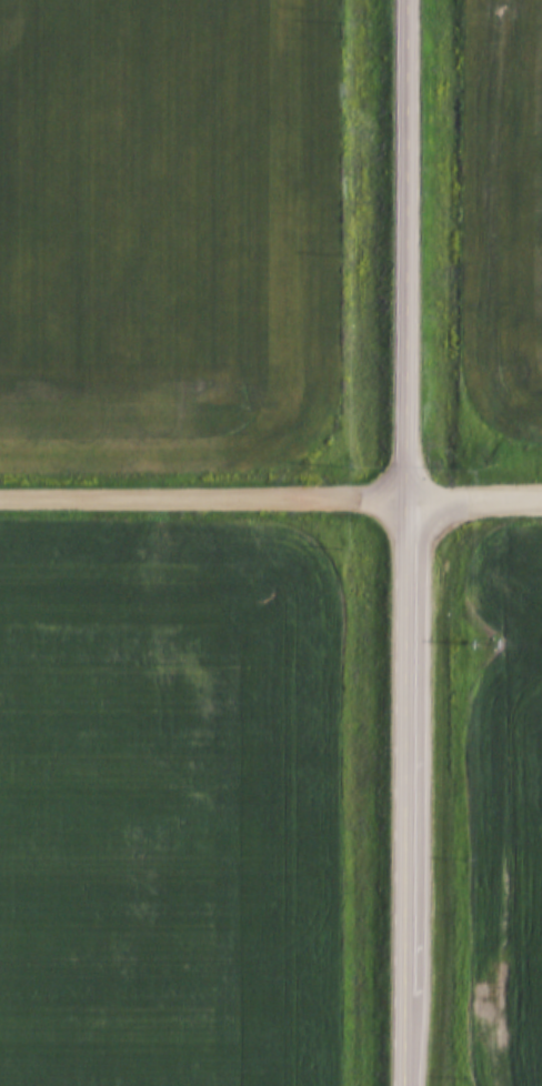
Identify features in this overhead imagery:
road: (199, 495)
road: (470, 497)
road: (401, 542)

